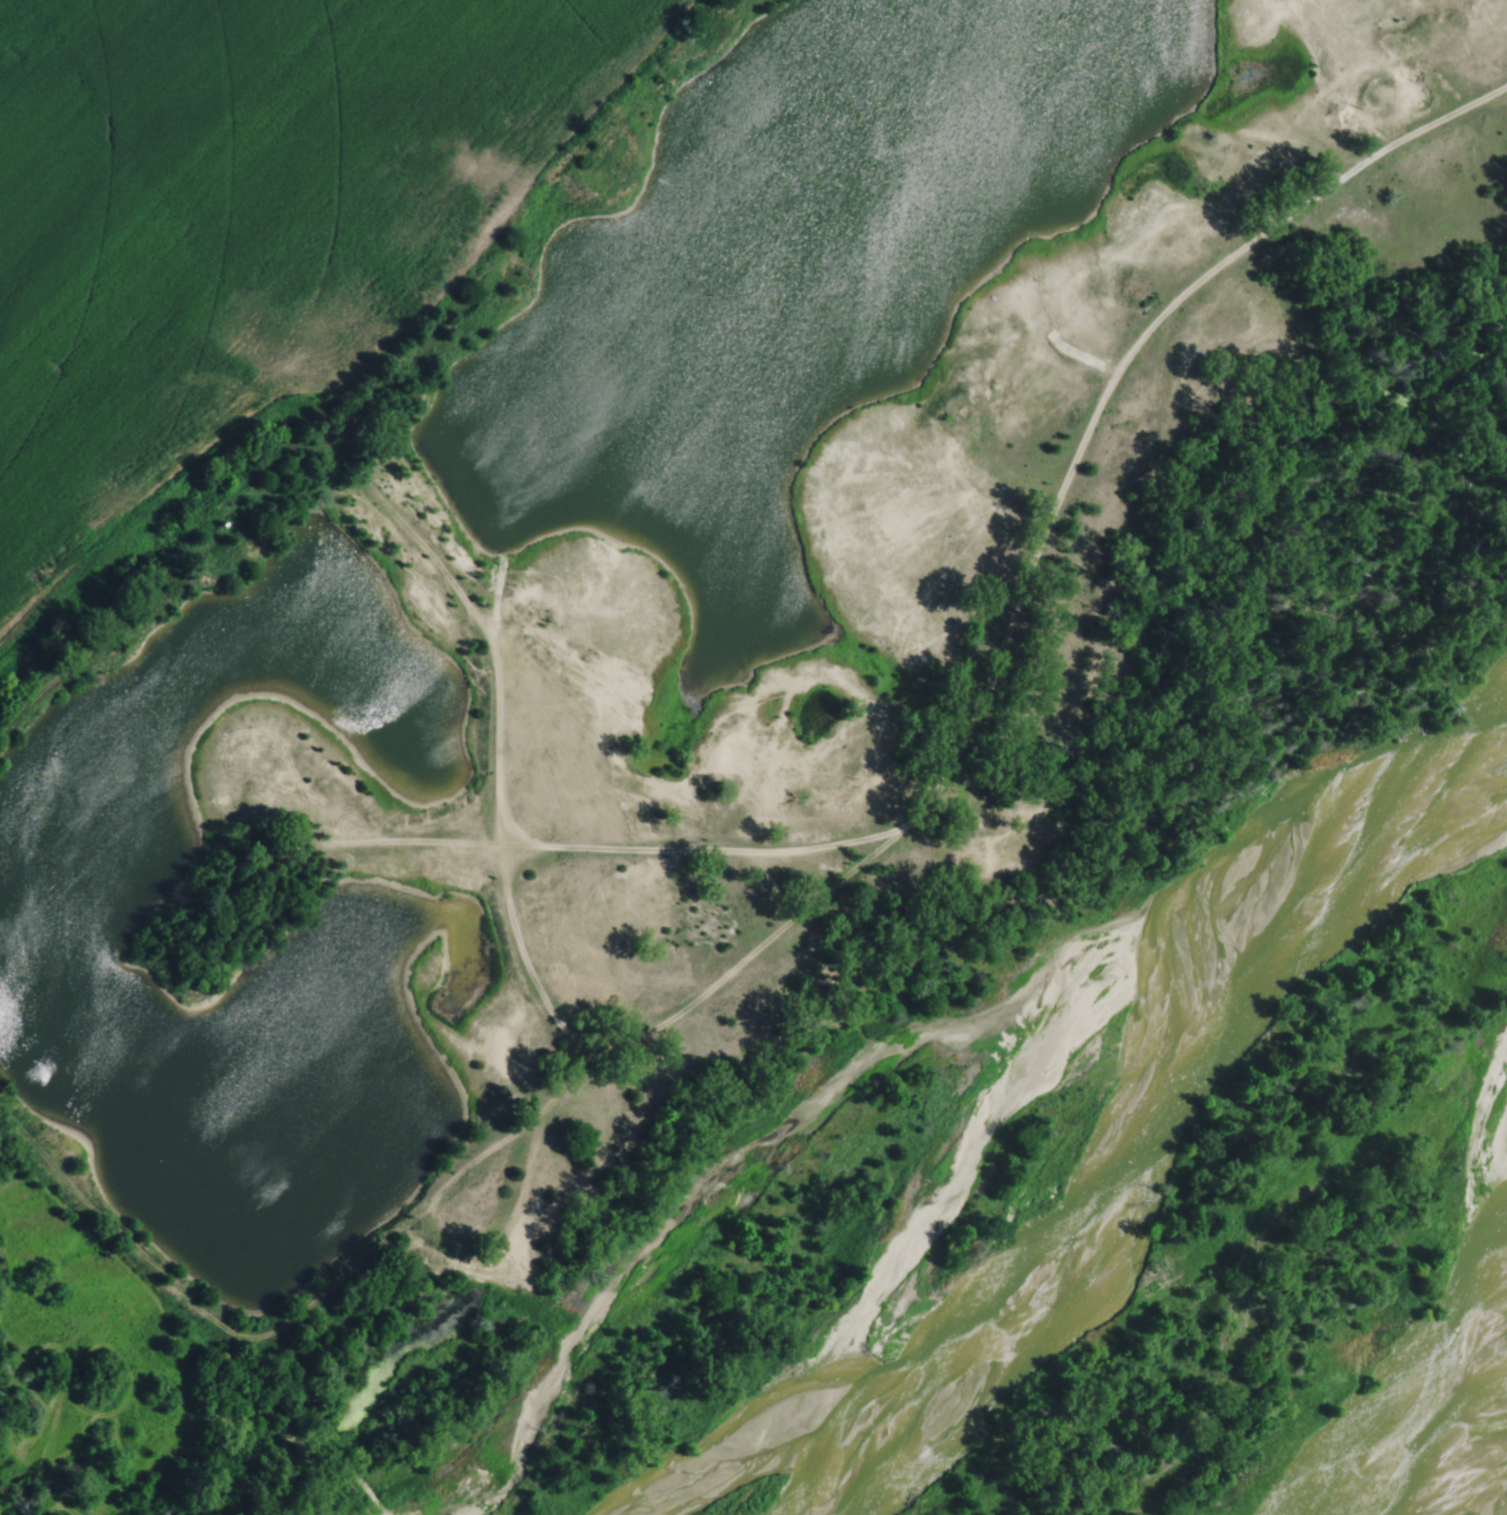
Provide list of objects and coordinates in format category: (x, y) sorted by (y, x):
road: (1114, 377)
road: (522, 963)
river: (1496, 1506)

